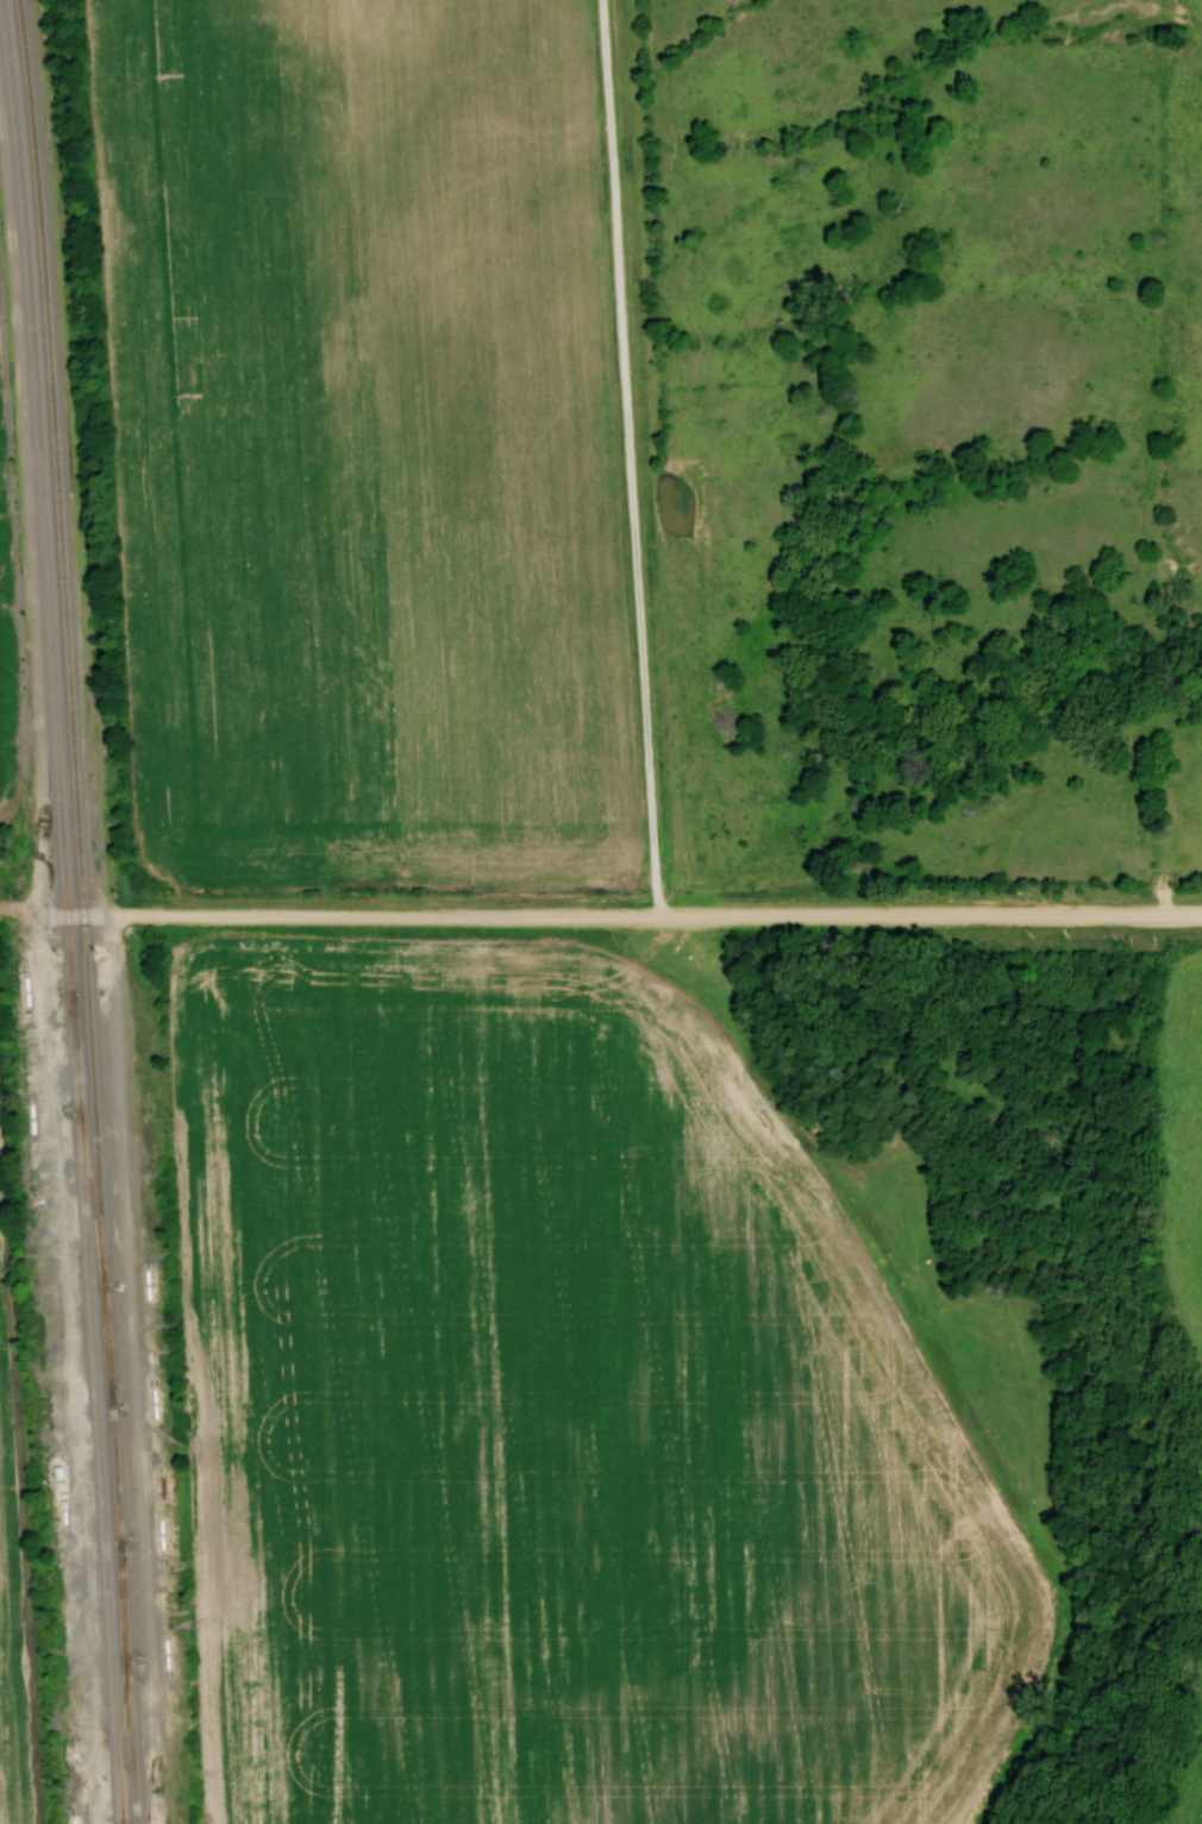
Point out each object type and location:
road: (628, 456)
railway: (84, 910)
railway: (64, 913)
road: (633, 913)
railway: (89, 1185)
railway: (123, 1706)

